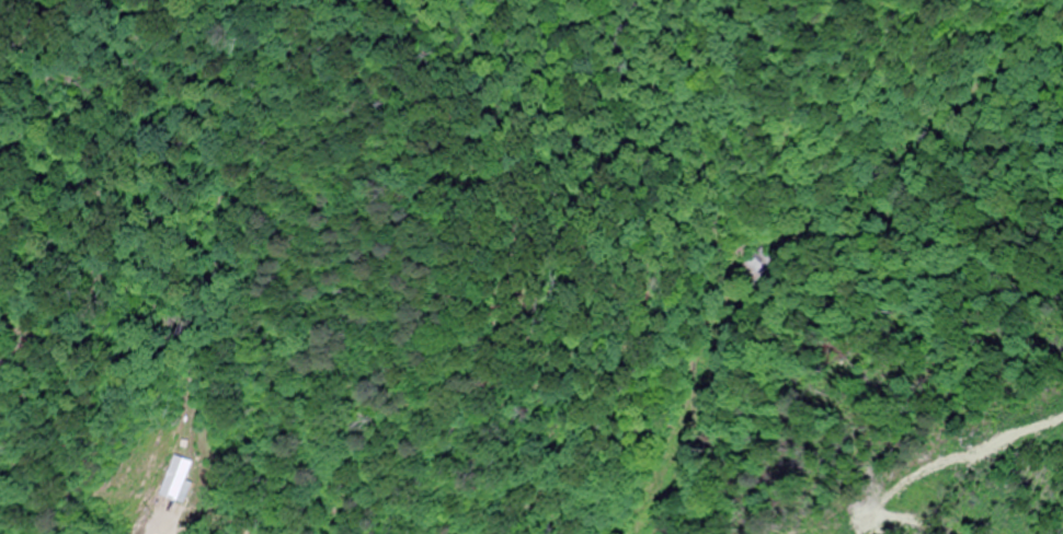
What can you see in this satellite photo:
building: (742, 268)
road: (707, 378)
building: (179, 478)

